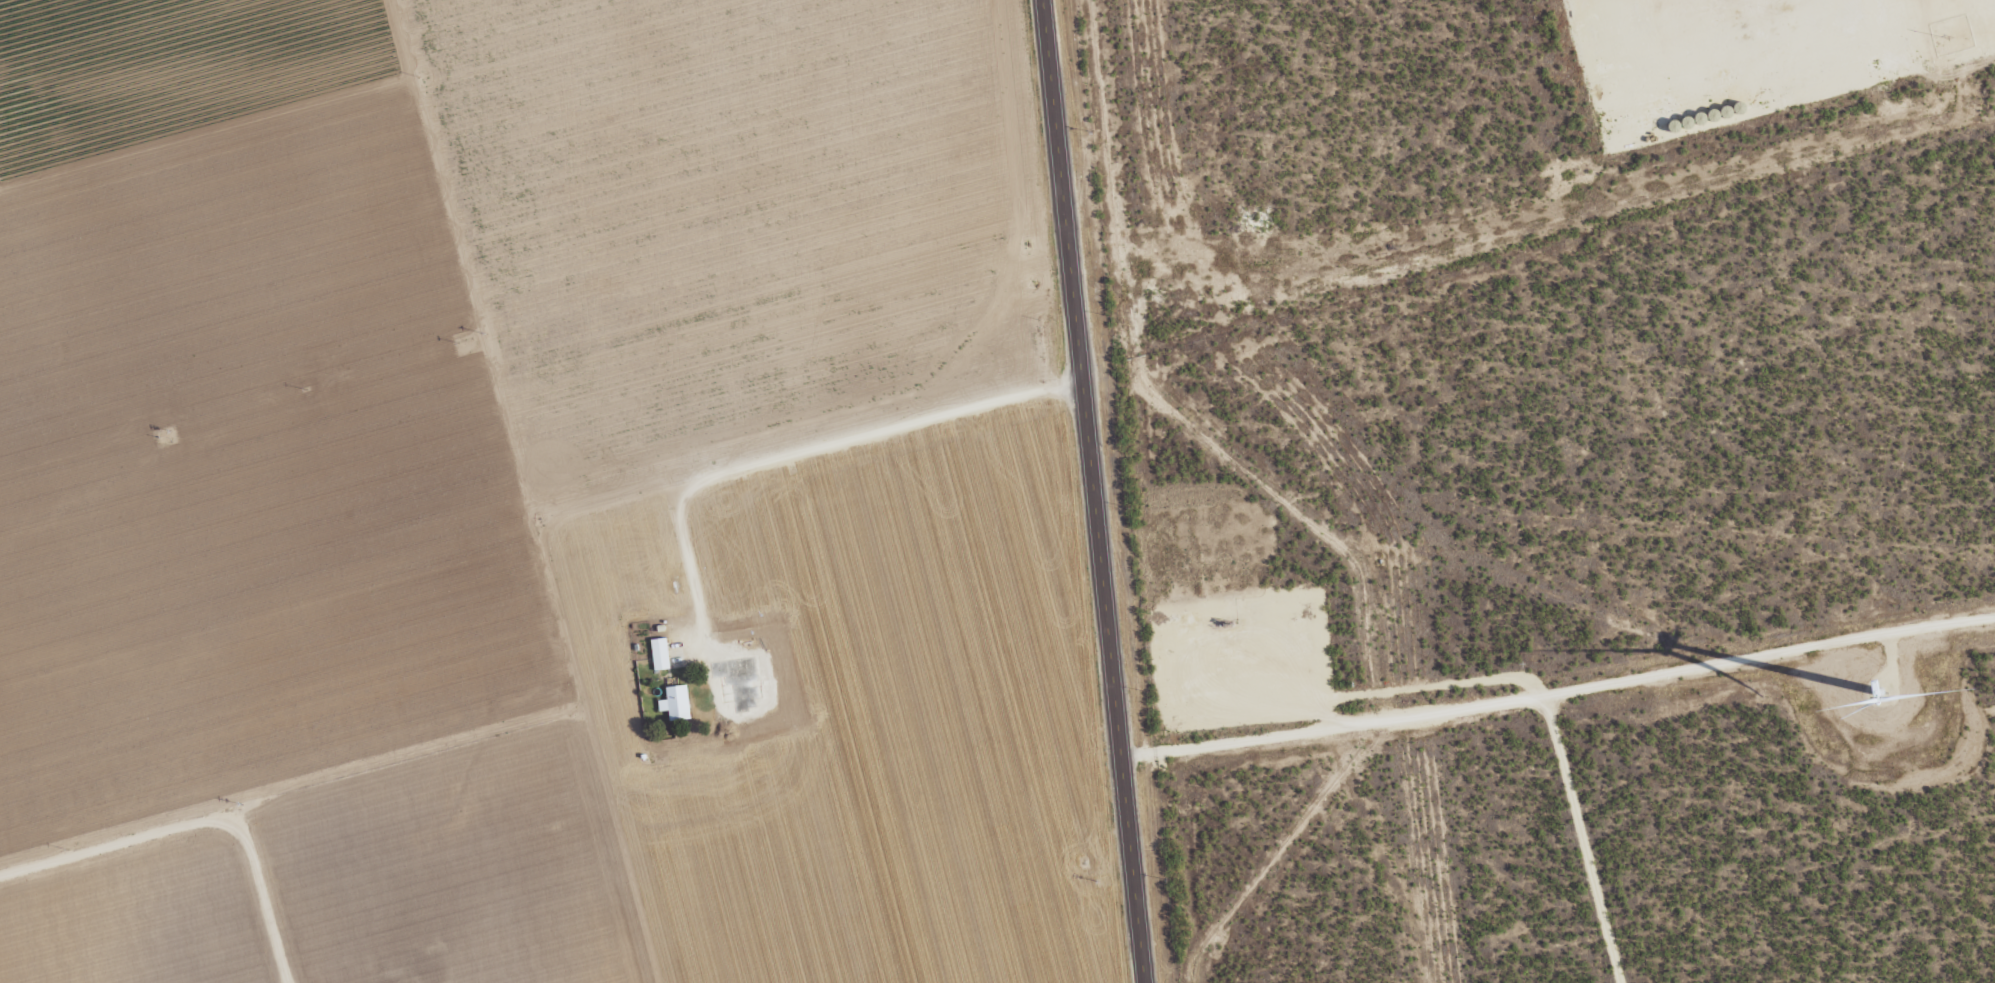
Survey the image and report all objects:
road: (1095, 491)
building: (666, 655)
wind turbine: (1879, 693)
building: (676, 702)
road: (1400, 906)

